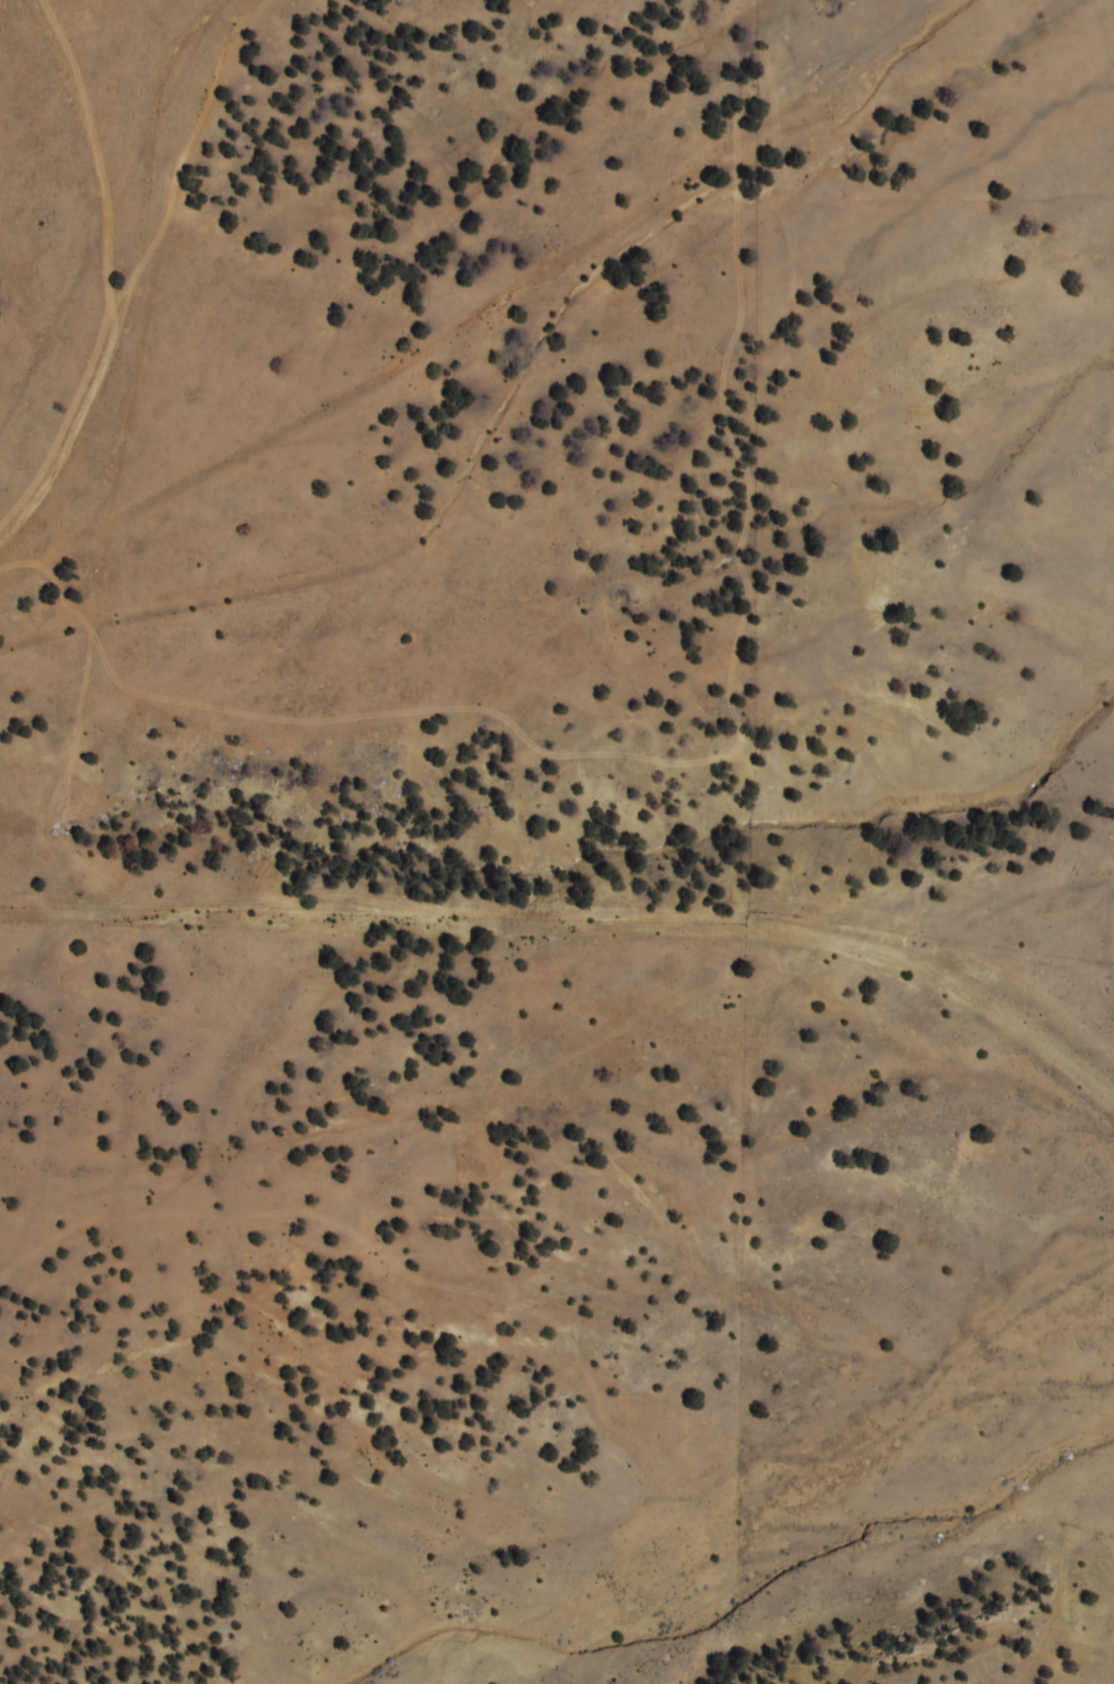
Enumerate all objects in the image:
road: (94, 177)
road: (60, 457)

